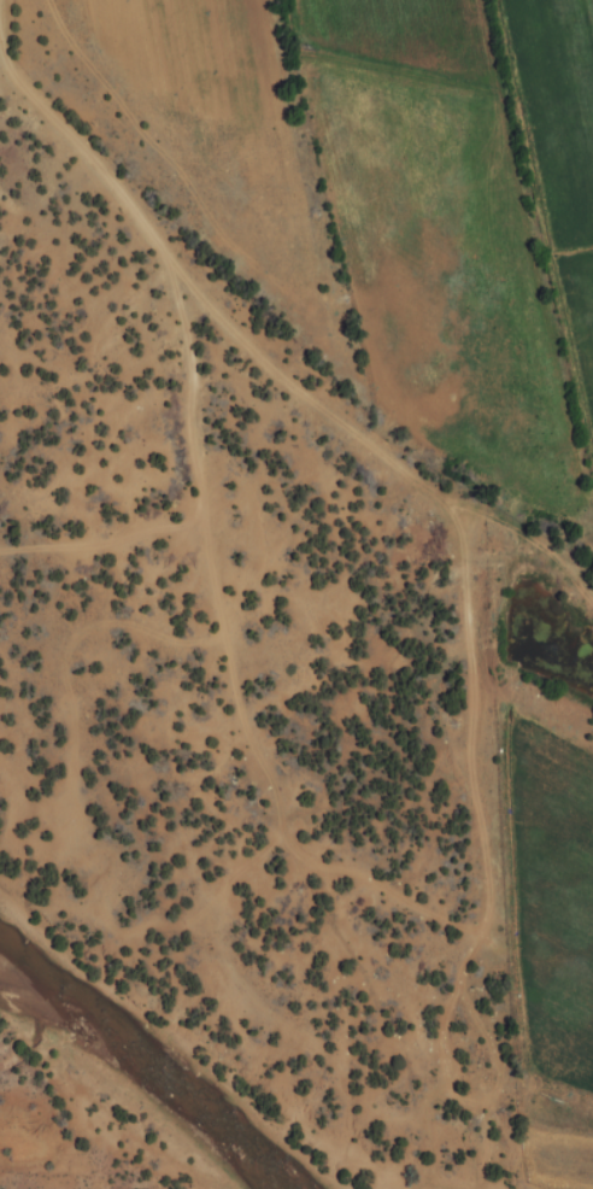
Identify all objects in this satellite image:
river: (141, 1082)

